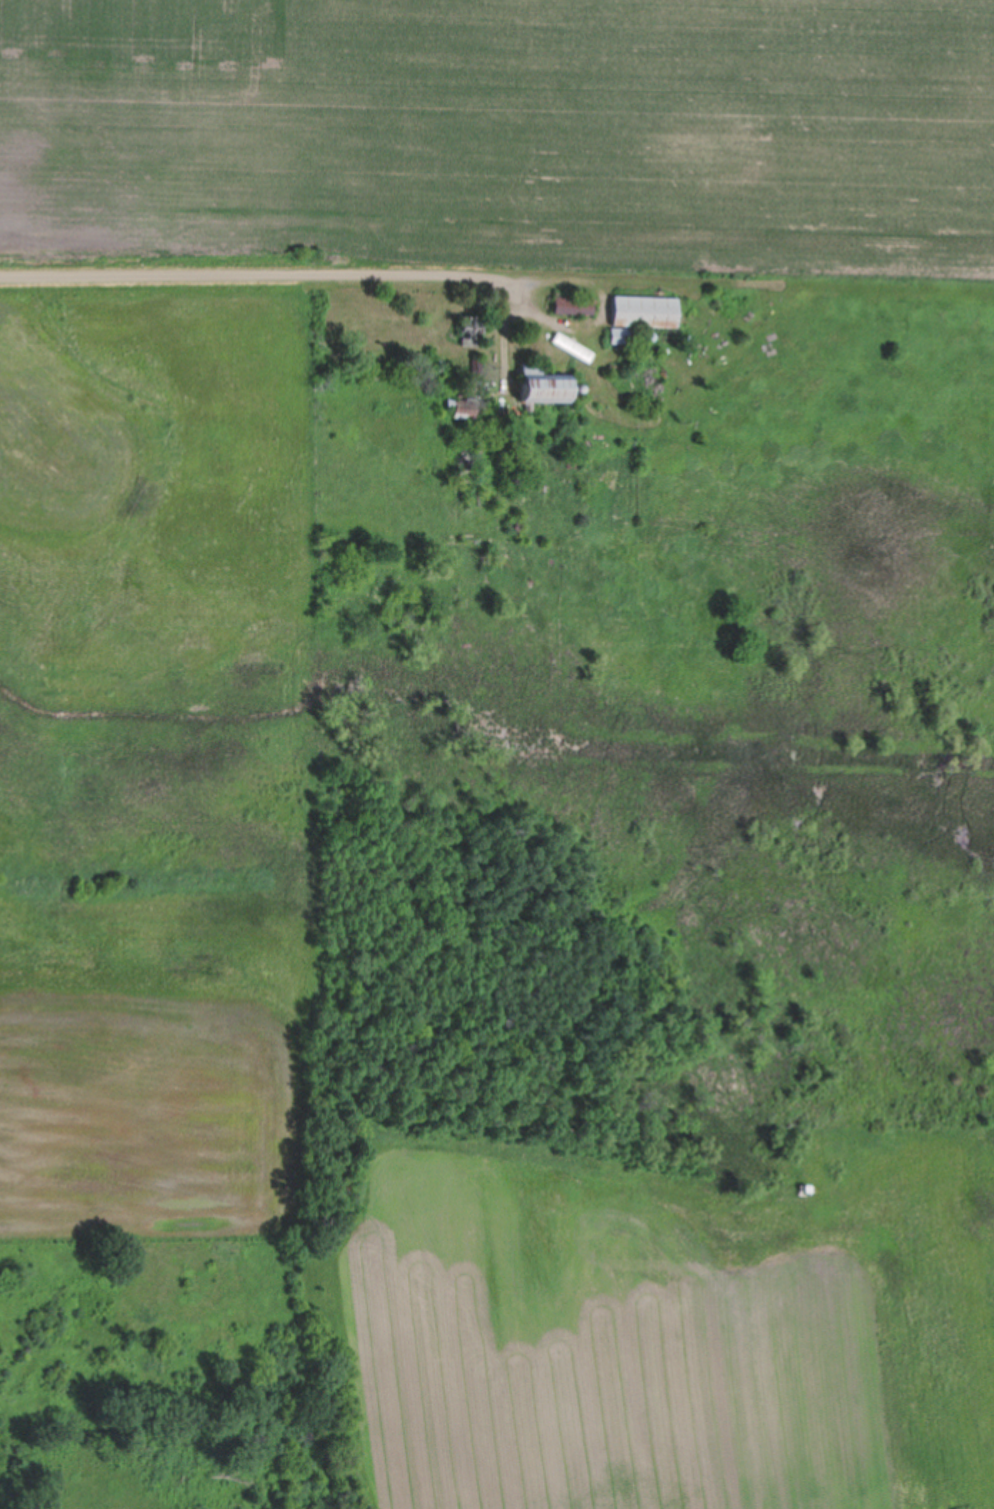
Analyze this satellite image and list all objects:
road: (226, 268)
building: (573, 304)
building: (644, 310)
building: (470, 331)
building: (619, 334)
building: (571, 346)
building: (544, 383)

